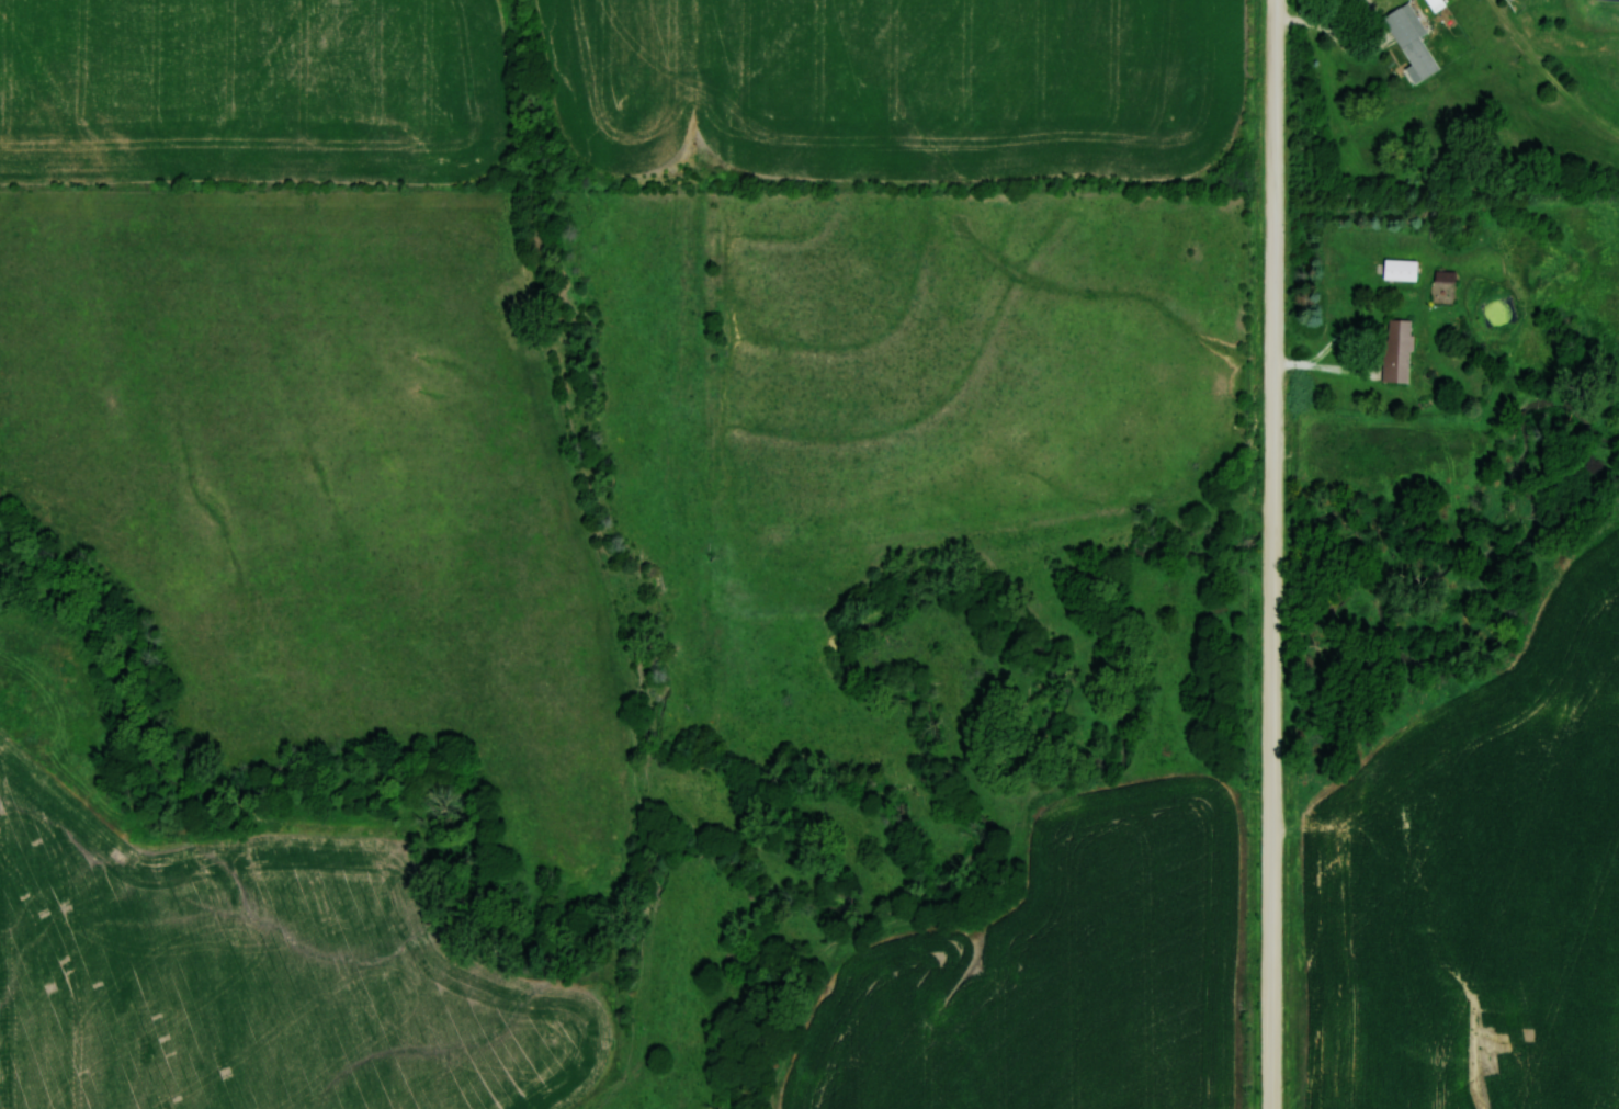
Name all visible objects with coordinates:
building: (1434, 4)
road: (1370, 35)
building: (1409, 38)
building: (1397, 269)
building: (1395, 351)
road: (1277, 554)

